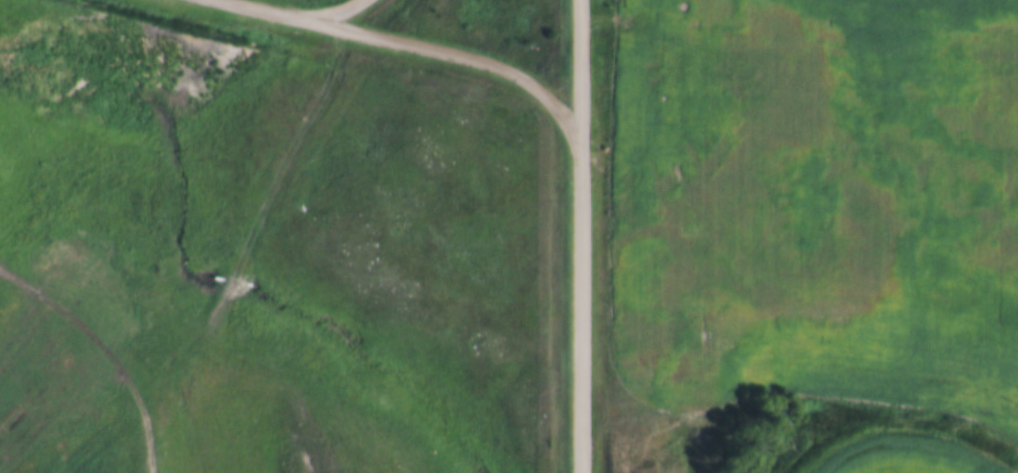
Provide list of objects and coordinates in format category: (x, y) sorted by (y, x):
road: (335, 9)
road: (760, 19)
road: (417, 42)
road: (579, 236)

